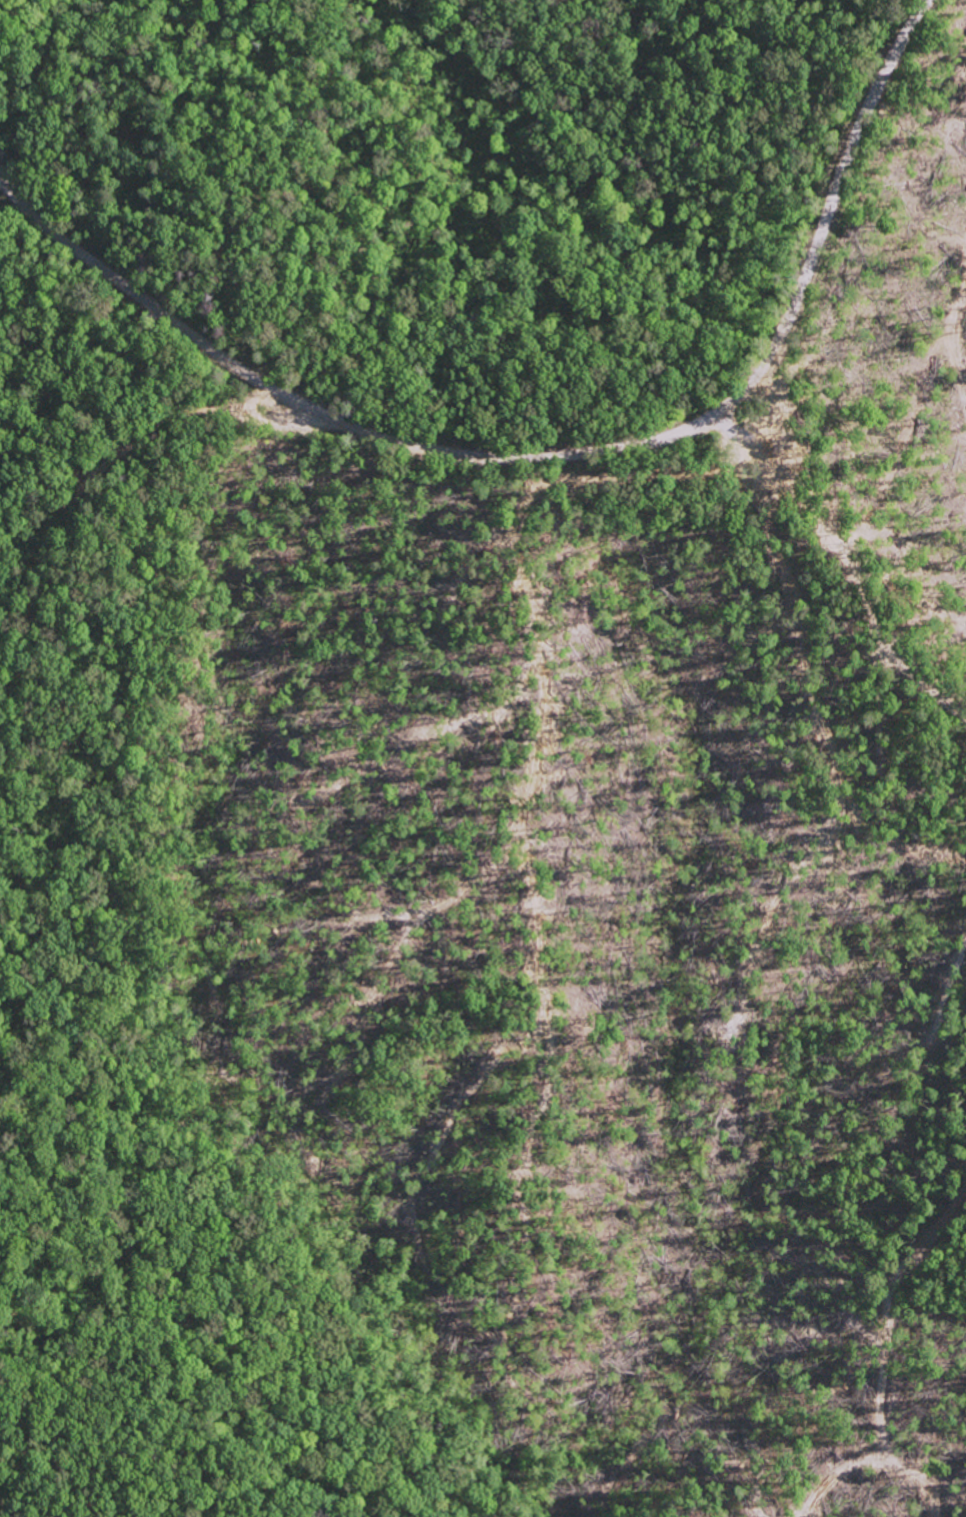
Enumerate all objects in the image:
road: (147, 436)
road: (554, 456)
road: (840, 550)

